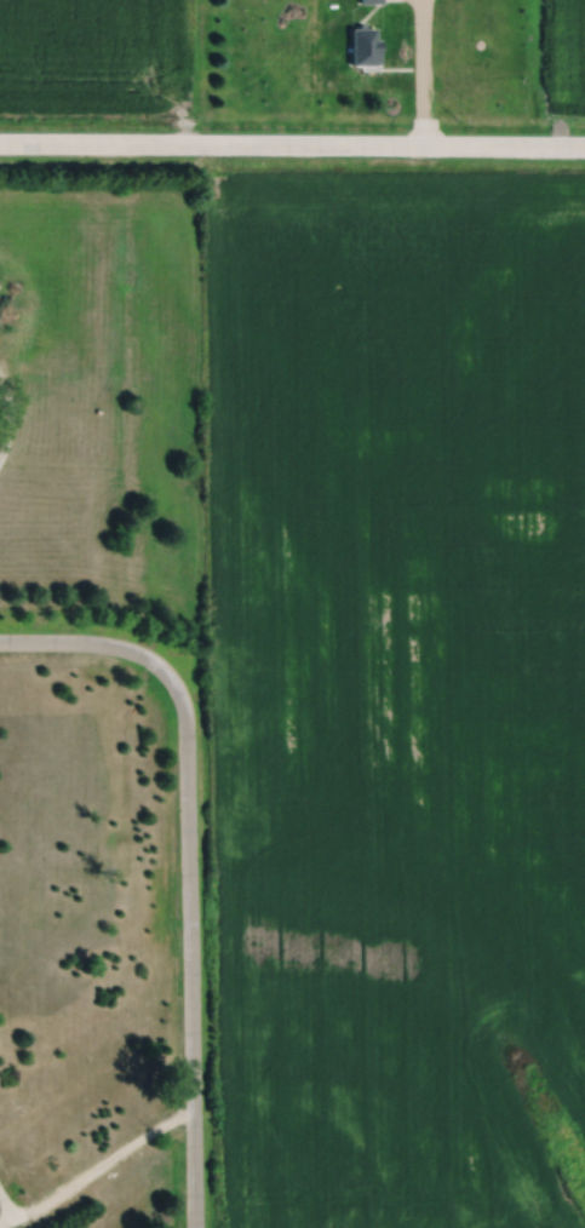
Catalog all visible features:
building: (372, 1)
building: (366, 47)
crop: (99, 57)
crop: (561, 59)
road: (421, 71)
road: (292, 142)
crop: (400, 683)
road: (188, 860)
road: (96, 1167)
road: (6, 1204)

